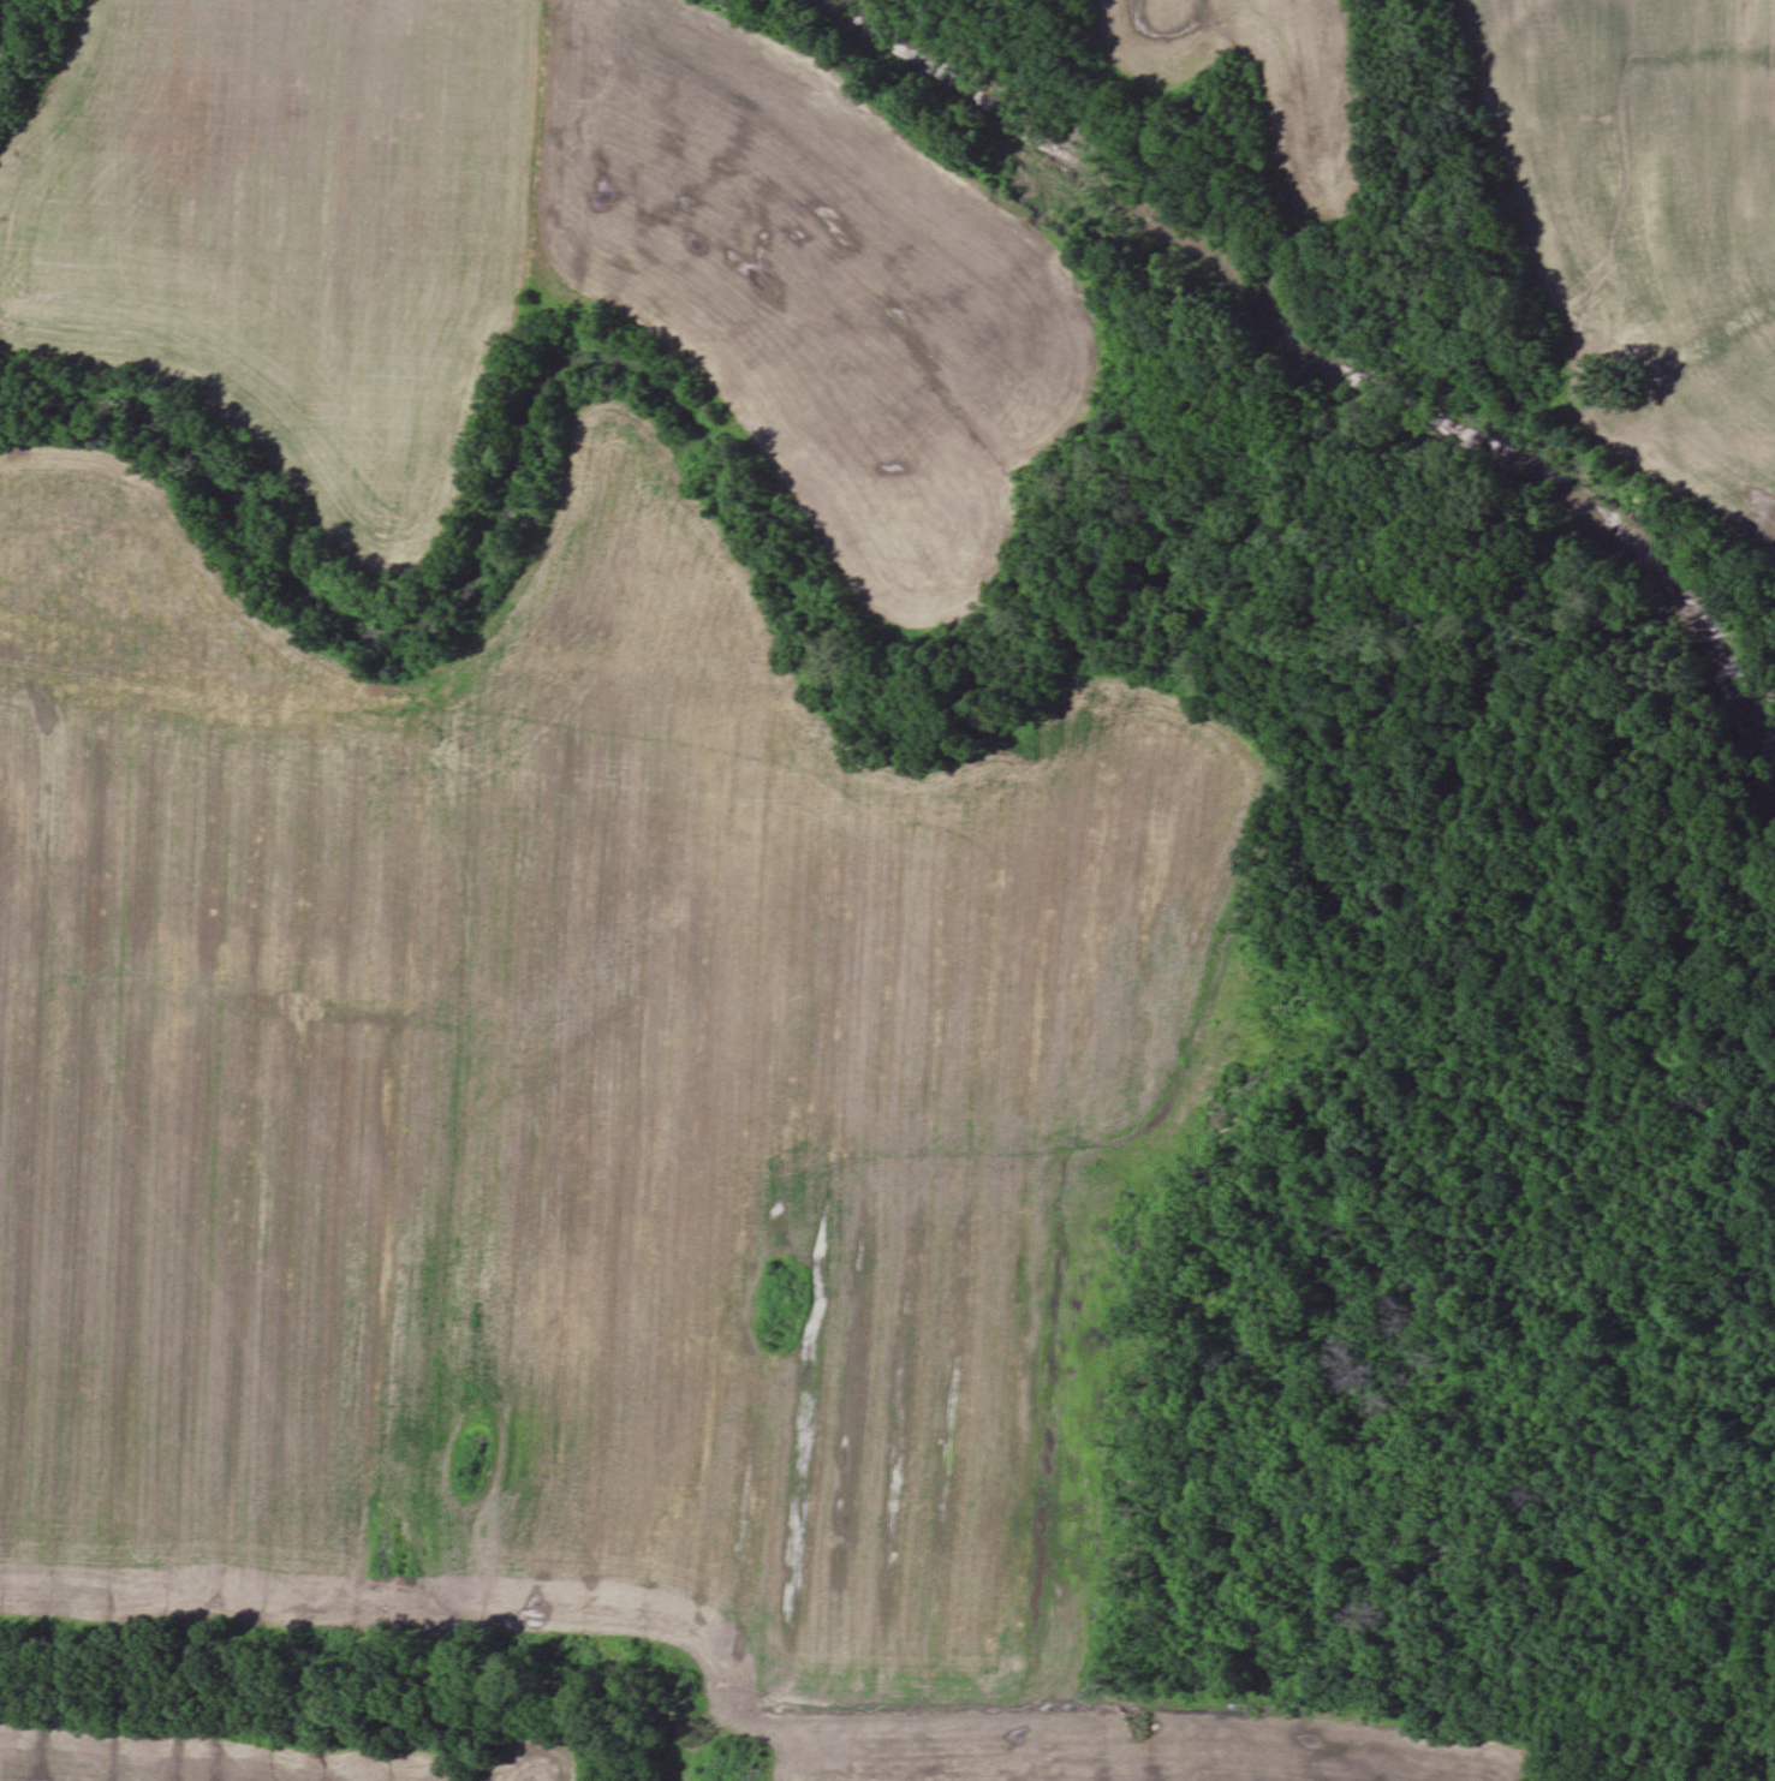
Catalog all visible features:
crop: (1305, 144)
crop: (1648, 215)
crop: (292, 222)
crop: (826, 303)
road: (334, 709)
crop: (608, 1131)
crop: (261, 1755)

